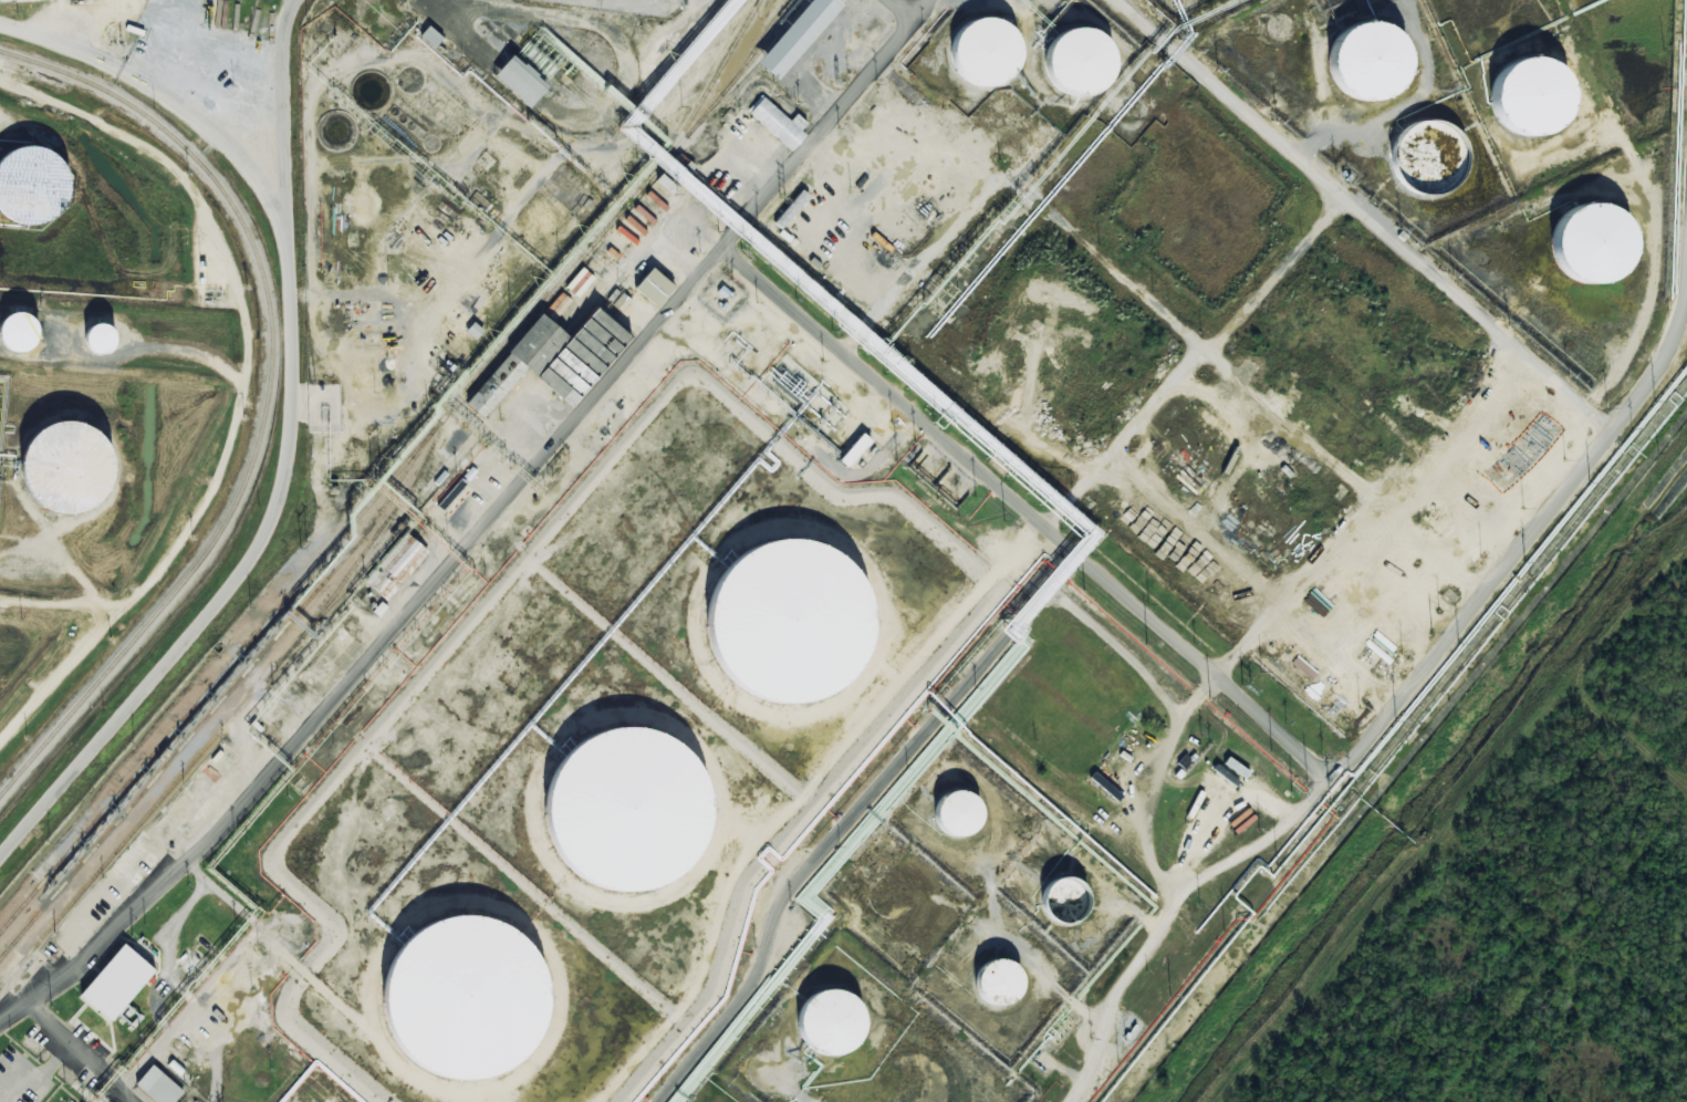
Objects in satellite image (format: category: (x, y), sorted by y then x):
building: (795, 35)
building: (429, 37)
railway: (758, 42)
building: (979, 55)
building: (1073, 65)
building: (1370, 67)
storage tank: (1370, 67)
railway: (754, 72)
building: (519, 81)
railway: (709, 86)
building: (1533, 102)
storage tank: (1533, 102)
railway: (137, 112)
road: (826, 122)
building: (775, 126)
road: (282, 132)
building: (1430, 164)
storage tank: (1430, 164)
building: (33, 190)
storage tank: (33, 190)
road: (1367, 216)
building: (1593, 248)
storage tank: (1593, 248)
road: (1279, 275)
building: (652, 288)
building: (21, 334)
storage tank: (21, 334)
building: (102, 342)
storage tank: (102, 342)
road: (246, 360)
building: (552, 360)
road: (1247, 385)
road: (290, 419)
road: (1126, 438)
building: (853, 450)
railway: (402, 465)
building: (67, 468)
storage tank: (67, 468)
railway: (387, 521)
railway: (215, 539)
building: (394, 566)
building: (792, 623)
storage tank: (792, 623)
road: (375, 652)
railway: (260, 685)
road: (1208, 686)
railway: (231, 689)
road: (1247, 701)
building: (629, 812)
storage tank: (629, 812)
building: (959, 817)
storage tank: (959, 817)
road: (852, 818)
road: (1438, 838)
building: (1066, 905)
storage tank: (1066, 905)
road: (1562, 953)
building: (113, 983)
building: (1000, 988)
storage tank: (1000, 988)
building: (468, 1001)
storage tank: (468, 1001)
building: (833, 1027)
storage tank: (833, 1027)
road: (83, 1051)
building: (154, 1088)

